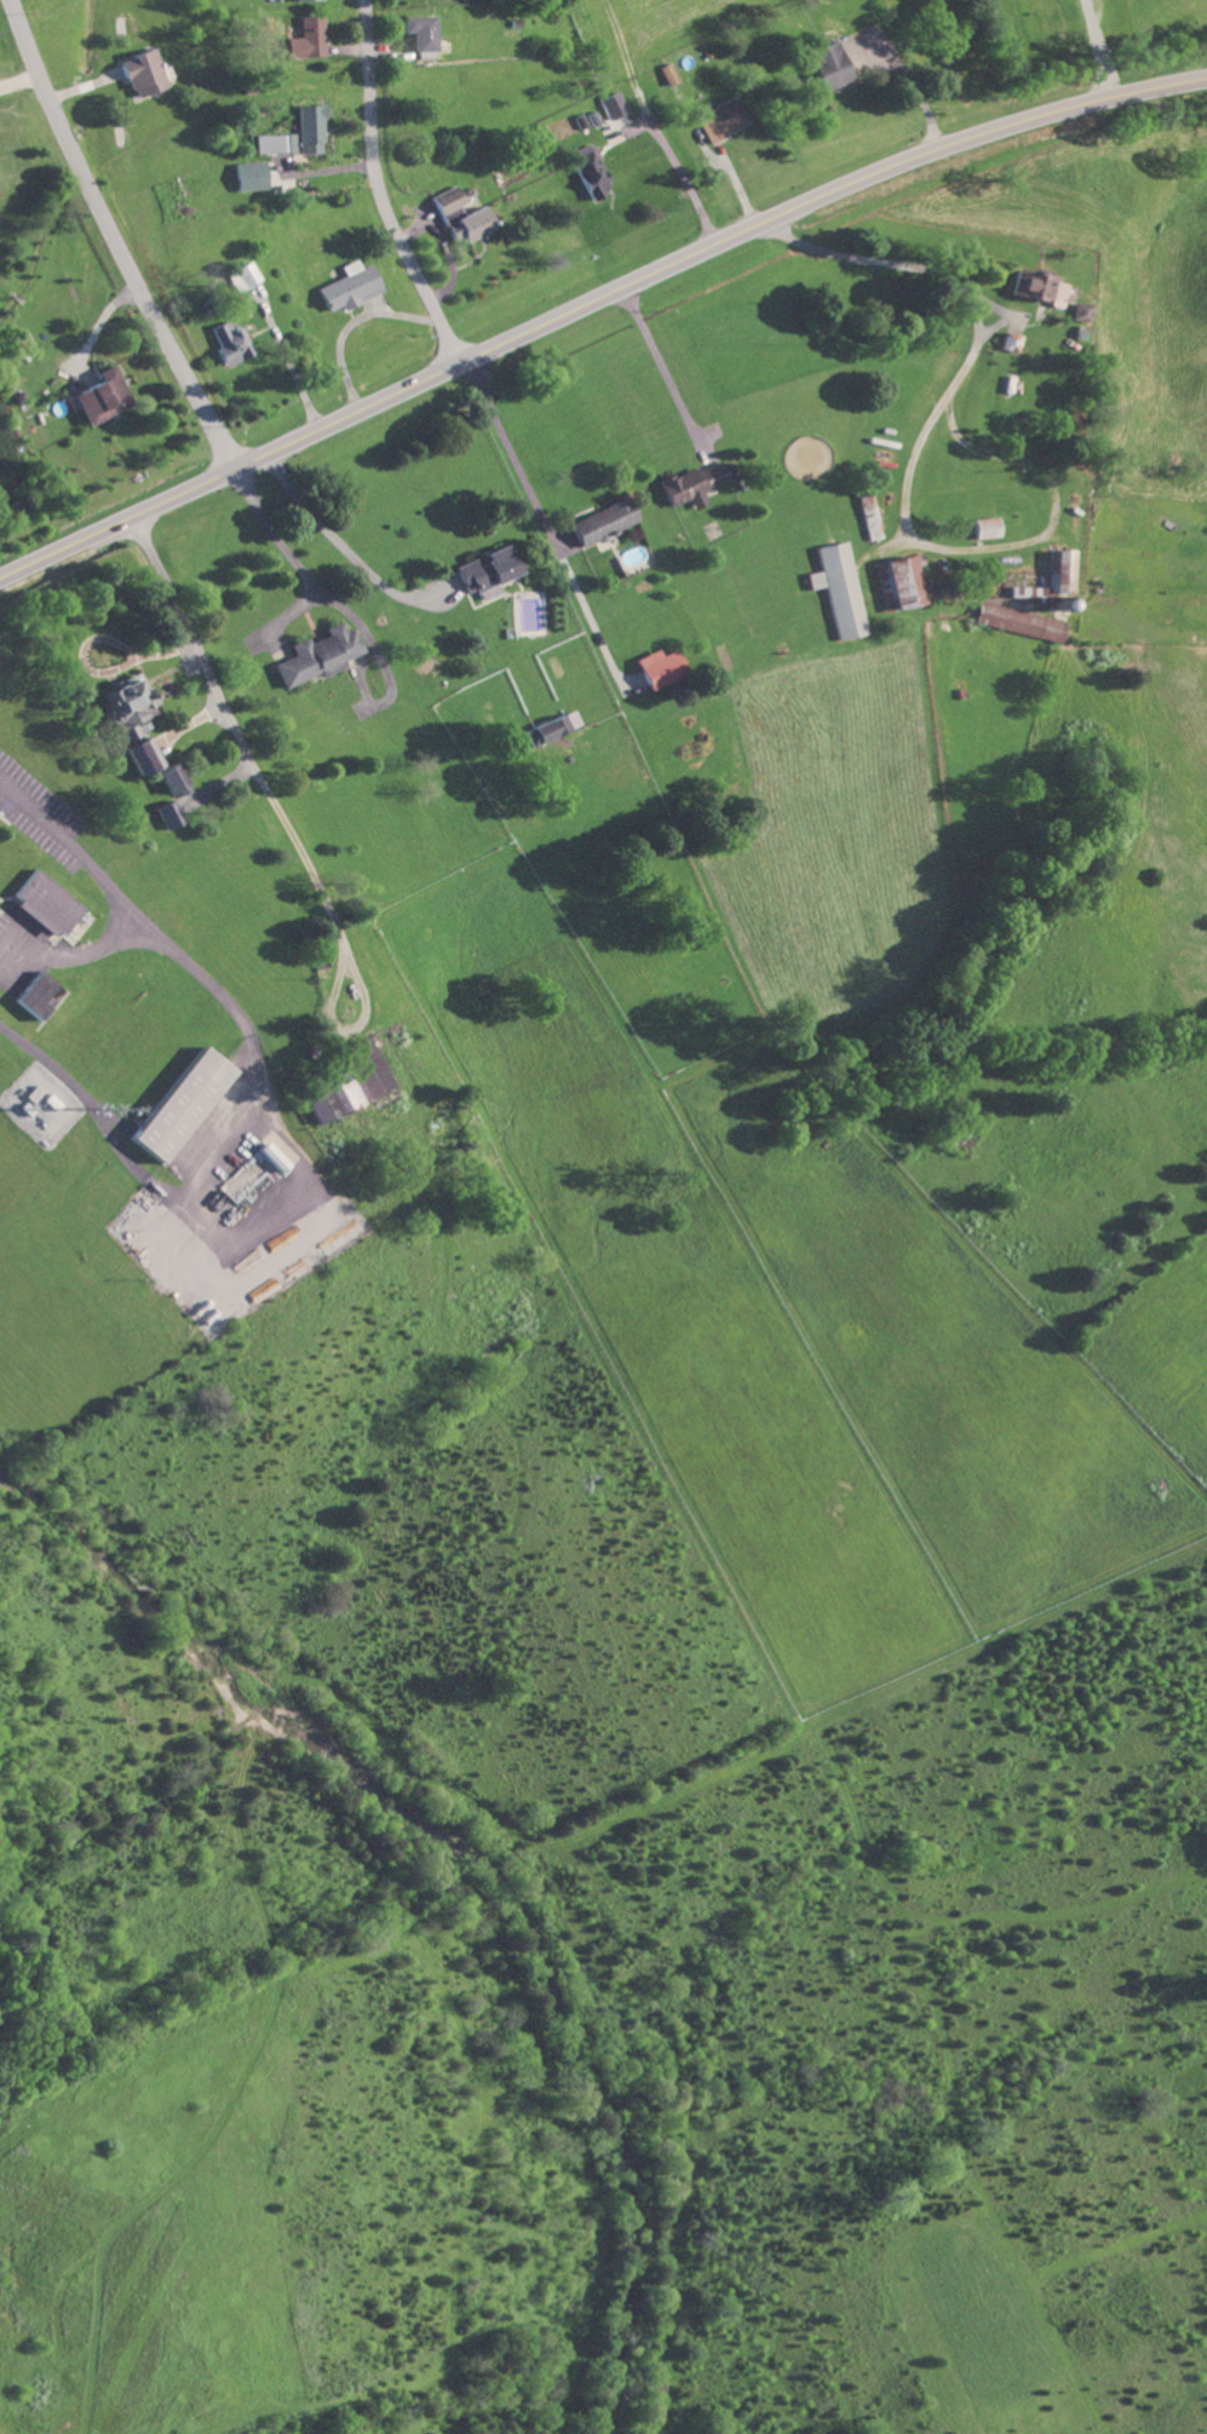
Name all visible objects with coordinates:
building: (301, 0)
building: (419, 31)
building: (306, 39)
building: (826, 65)
building: (143, 70)
building: (669, 73)
building: (615, 103)
building: (720, 119)
building: (309, 127)
building: (275, 142)
building: (592, 173)
building: (249, 174)
road: (384, 189)
building: (448, 198)
building: (466, 223)
road: (114, 237)
building: (245, 275)
building: (350, 286)
building: (1035, 286)
road: (593, 303)
building: (1077, 310)
building: (229, 340)
building: (1008, 340)
road: (965, 364)
building: (99, 396)
road: (513, 444)
building: (692, 483)
building: (868, 514)
building: (602, 520)
building: (984, 526)
road: (335, 537)
road: (293, 554)
building: (1062, 569)
building: (485, 570)
building: (896, 582)
building: (837, 588)
building: (1018, 620)
building: (316, 654)
building: (657, 667)
building: (121, 706)
road: (234, 721)
building: (551, 726)
building: (139, 754)
building: (168, 777)
building: (168, 812)
road: (119, 893)
building: (45, 903)
building: (36, 995)
road: (358, 1020)
building: (347, 1082)
building: (179, 1104)
building: (272, 1151)

